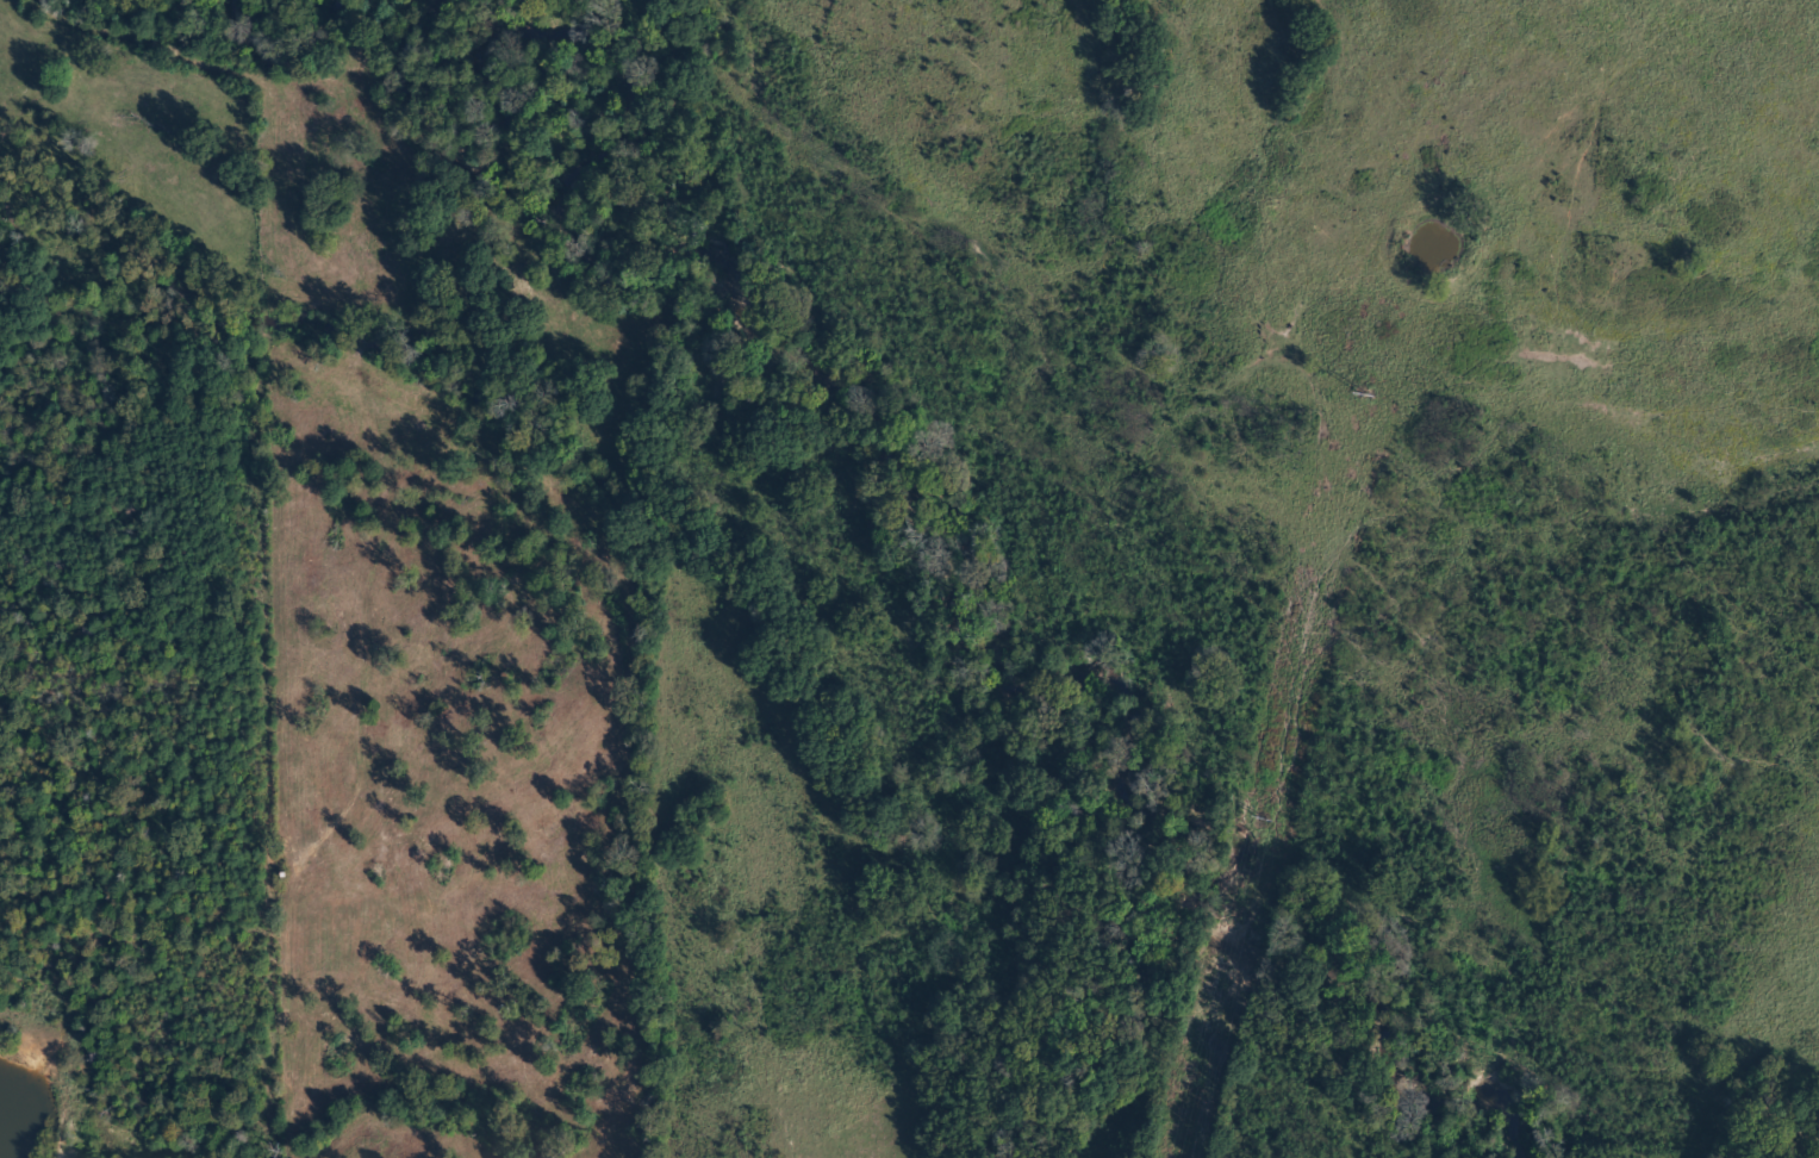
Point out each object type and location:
power tower: (1262, 823)

